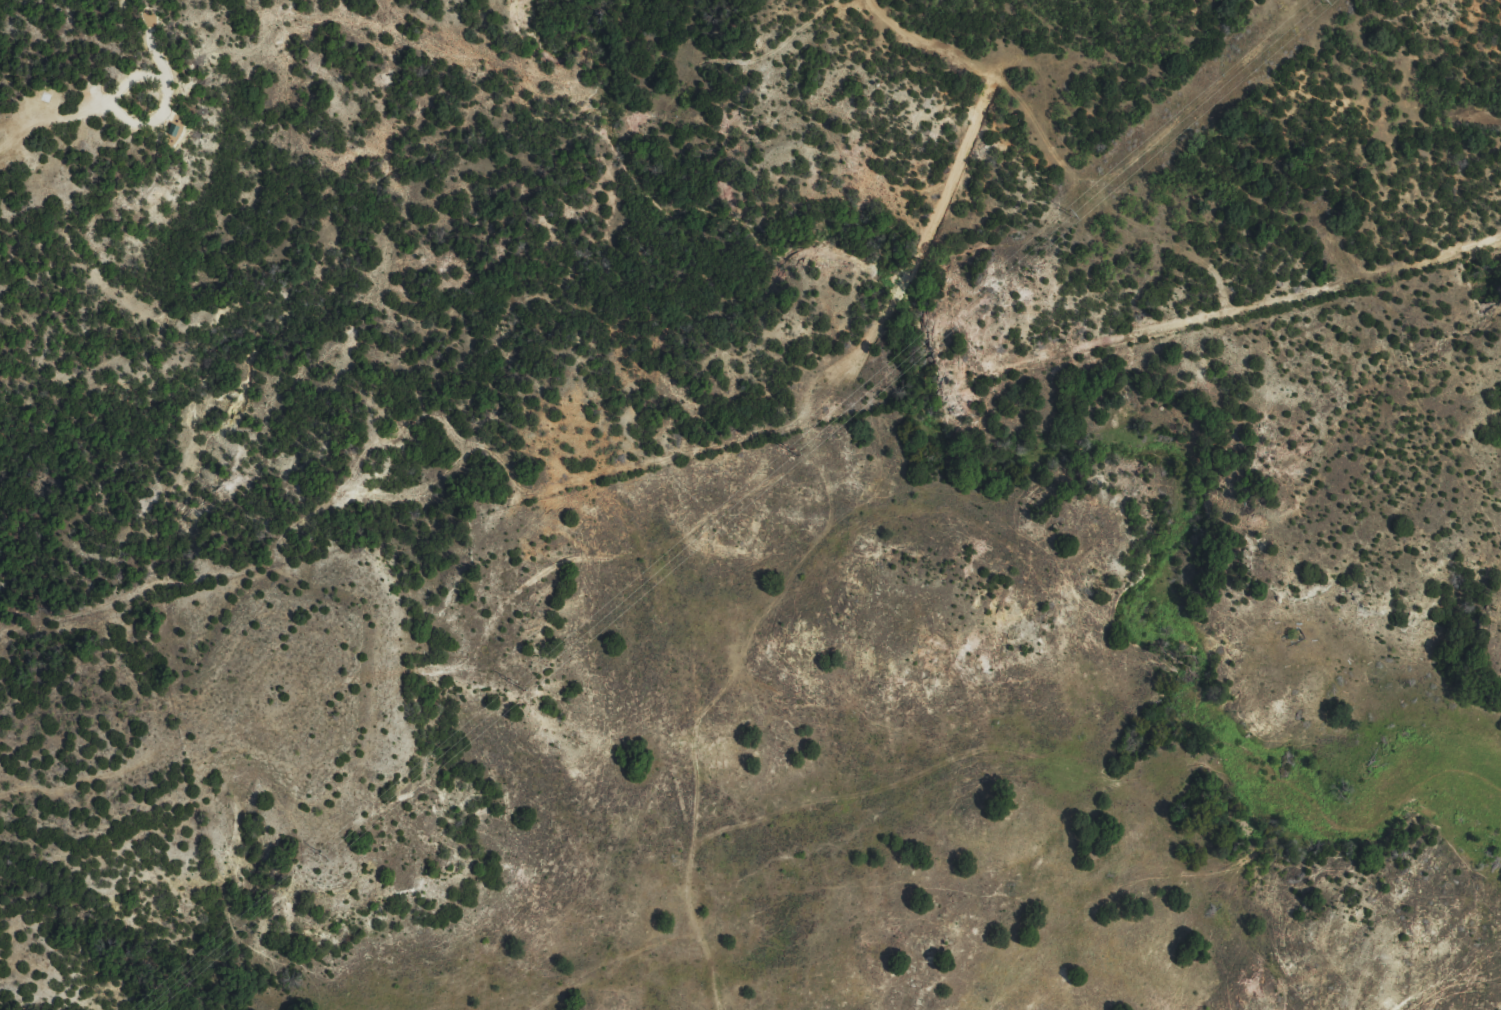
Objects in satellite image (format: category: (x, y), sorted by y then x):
power tower: (1070, 215)
power tower: (792, 452)
power tower: (522, 688)
power tower: (323, 855)

